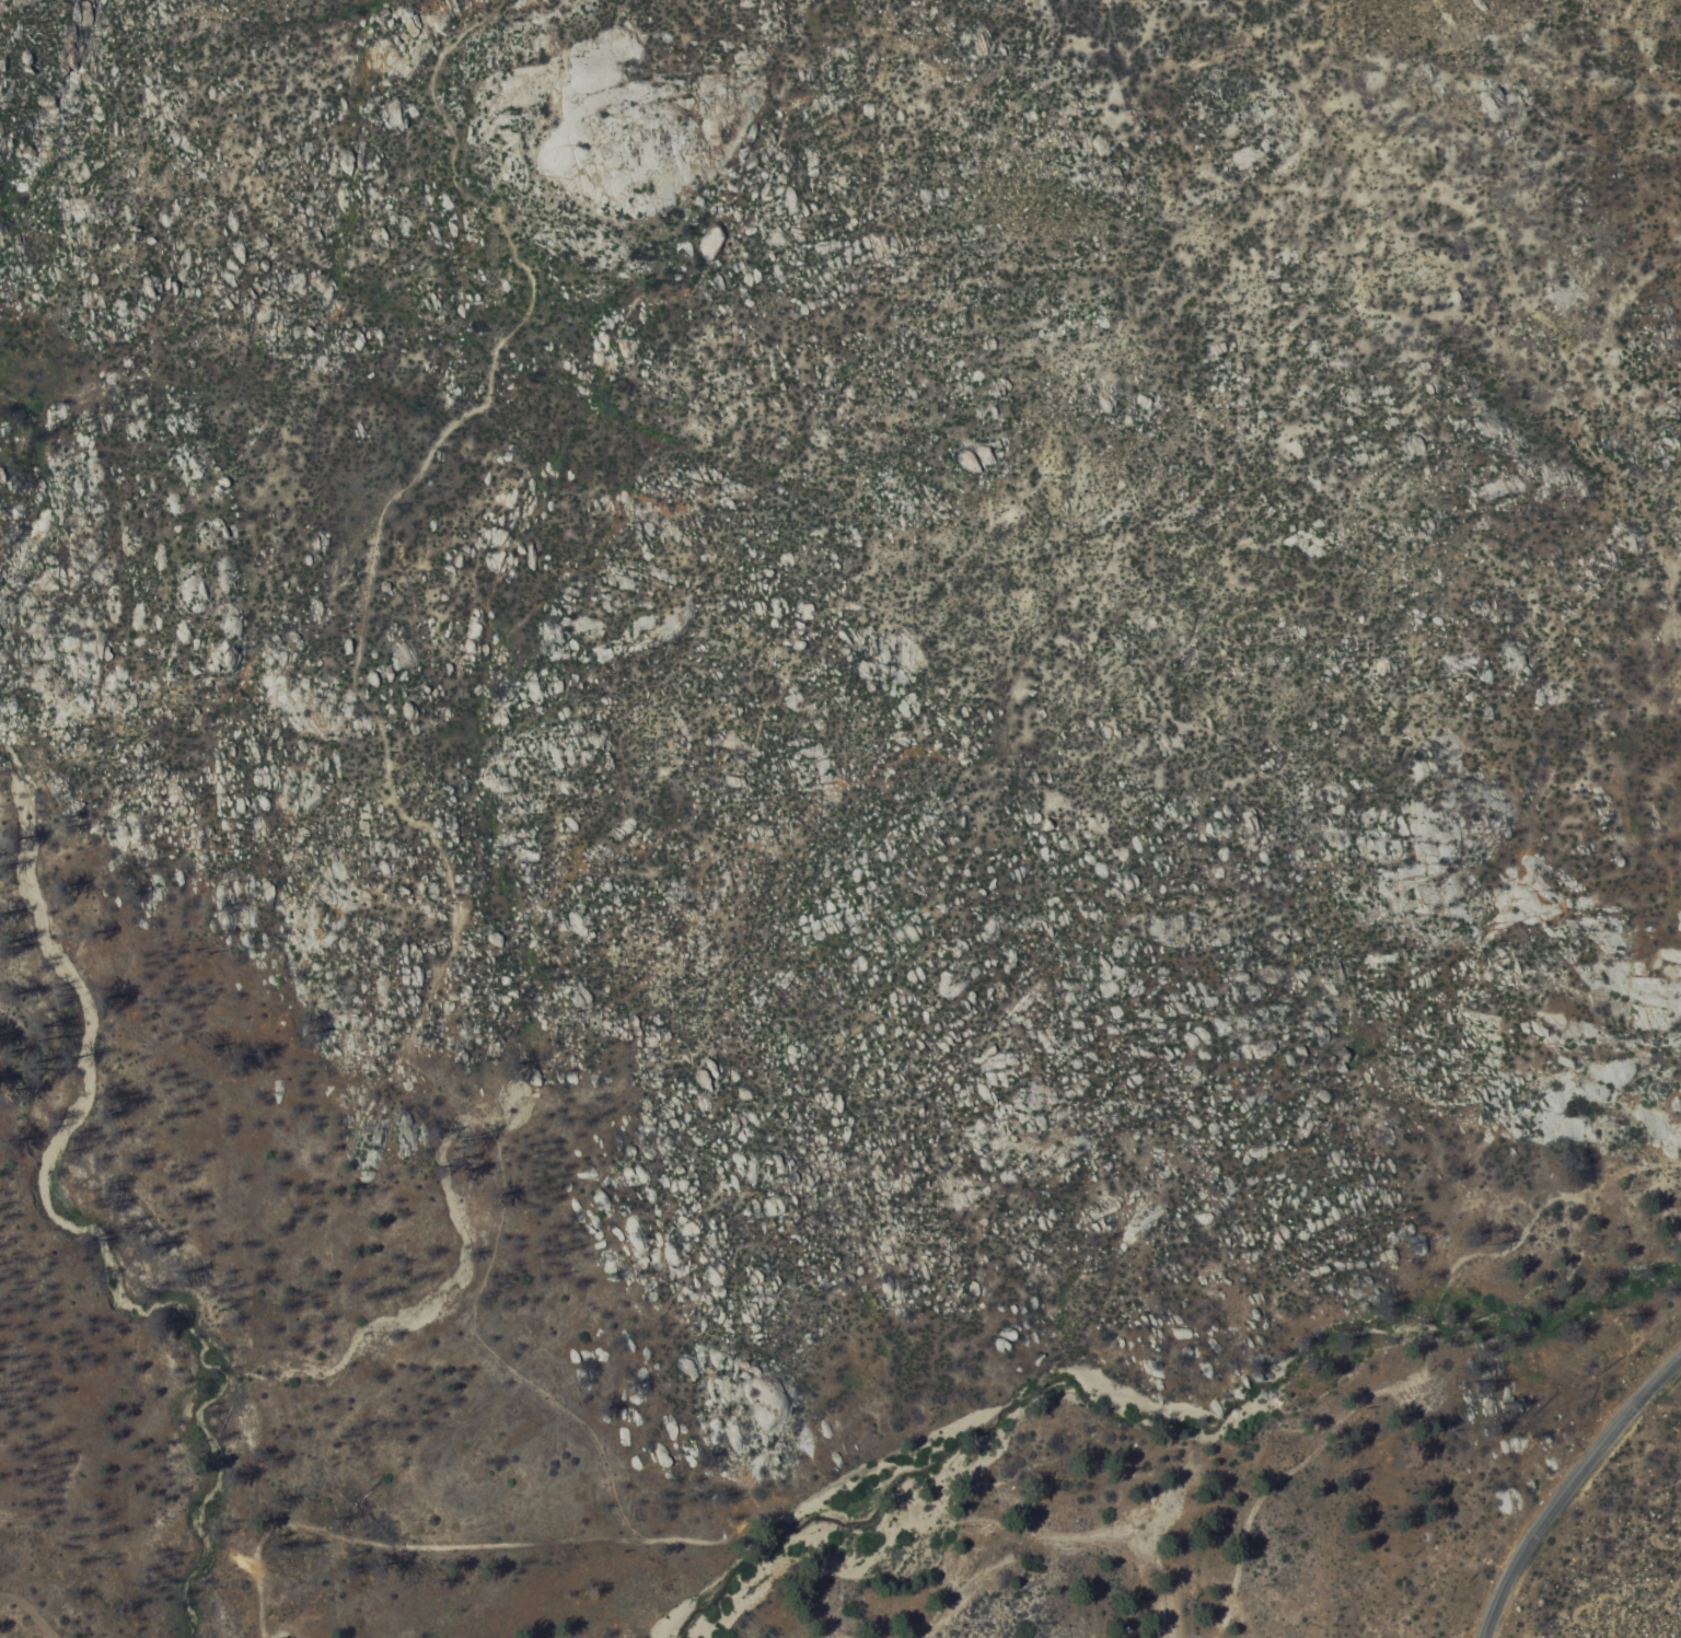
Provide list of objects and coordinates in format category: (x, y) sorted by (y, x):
road: (350, 657)
road: (1572, 1489)
road: (744, 1524)
road: (978, 1576)
road: (1163, 1583)

